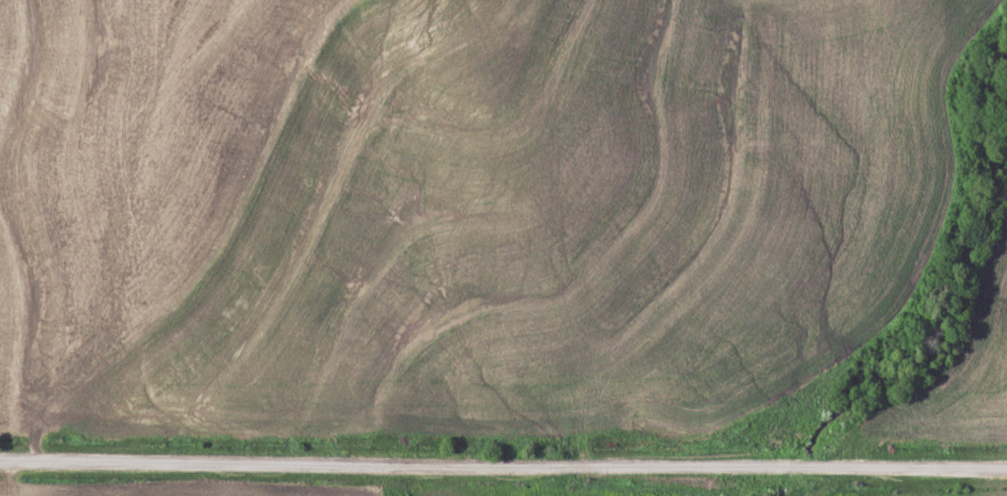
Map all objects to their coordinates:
road: (503, 461)

